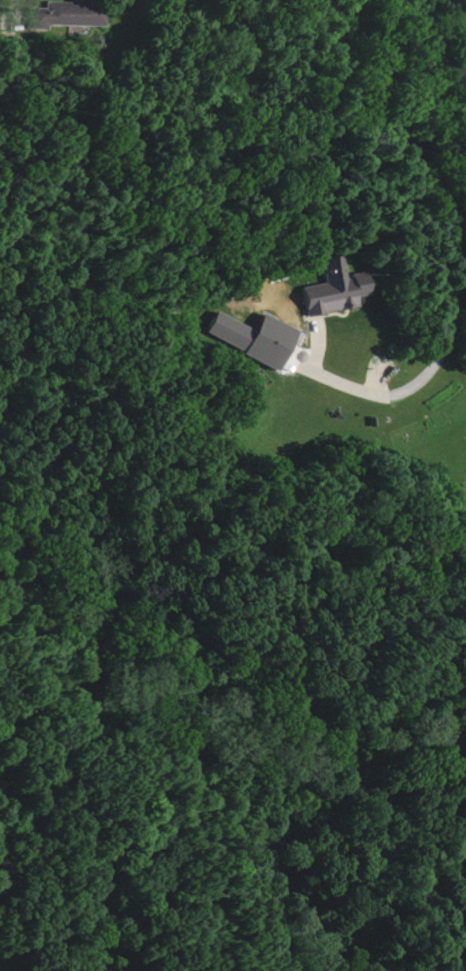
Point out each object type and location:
building: (67, 14)
road: (440, 243)
building: (334, 293)
building: (221, 326)

